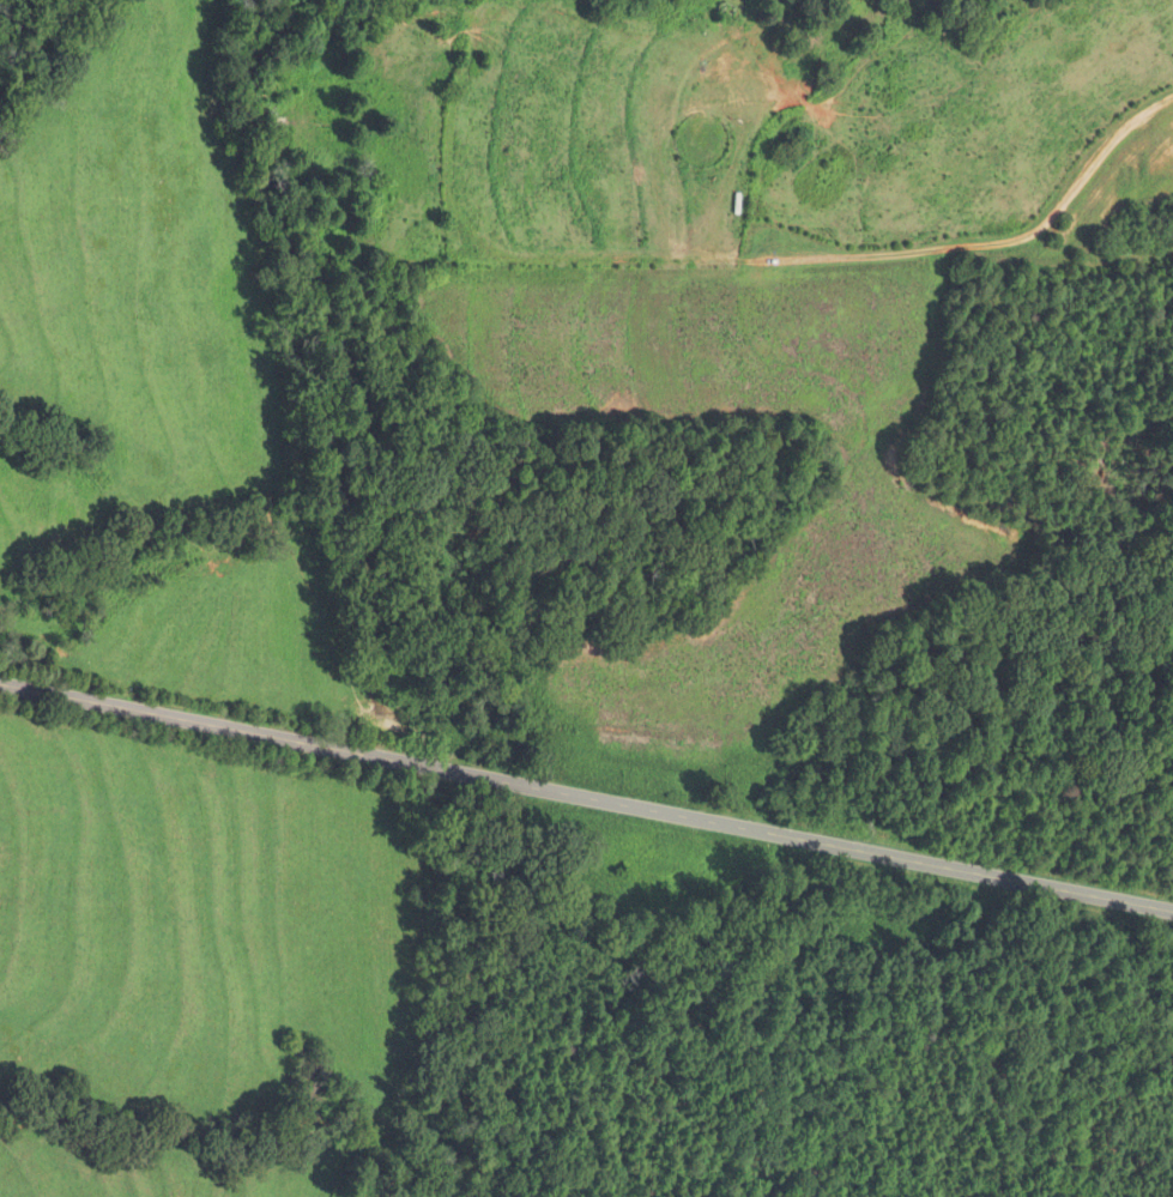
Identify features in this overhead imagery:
road: (586, 805)

